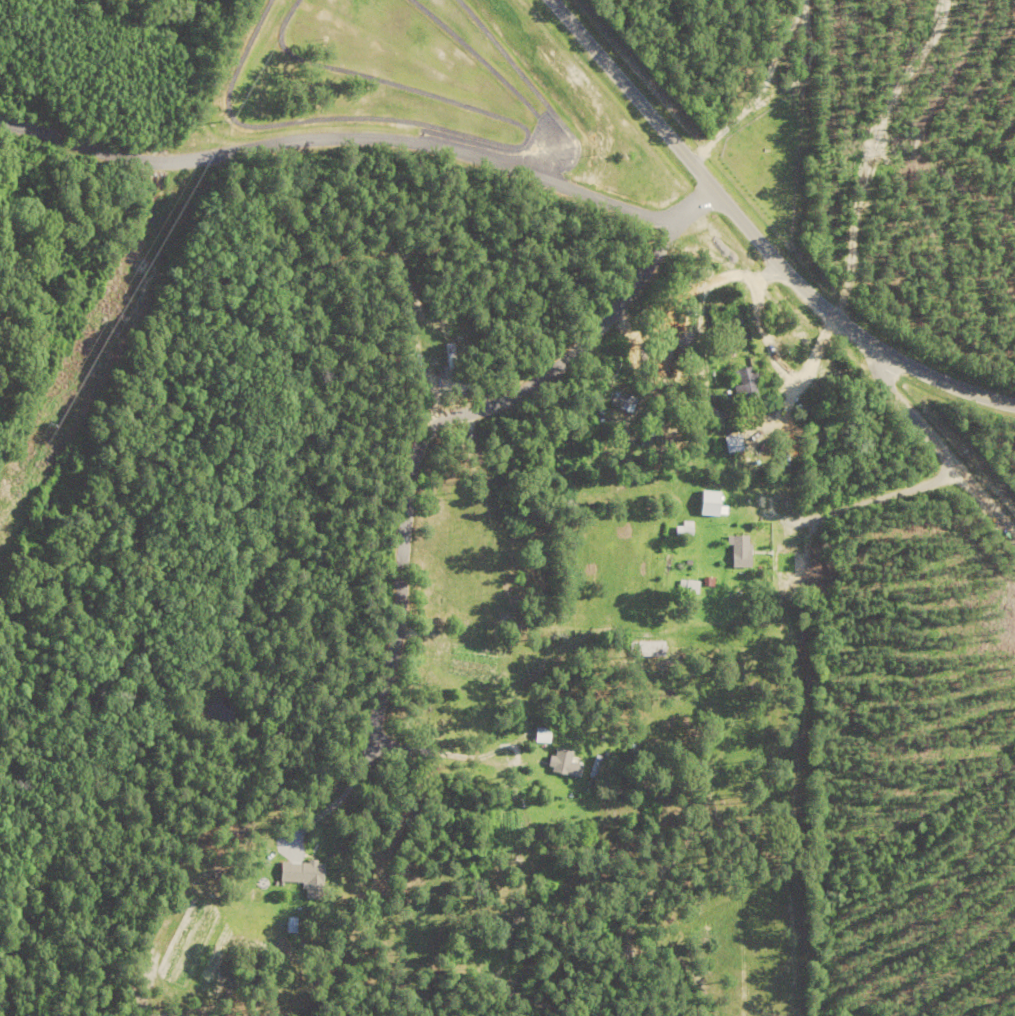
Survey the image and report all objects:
road: (337, 136)
road: (754, 238)
building: (741, 383)
road: (460, 420)
road: (938, 449)
road: (783, 483)
building: (708, 504)
building: (682, 530)
building: (737, 551)
building: (685, 586)
road: (470, 756)
building: (560, 764)
building: (596, 769)
road: (341, 799)
building: (300, 874)

